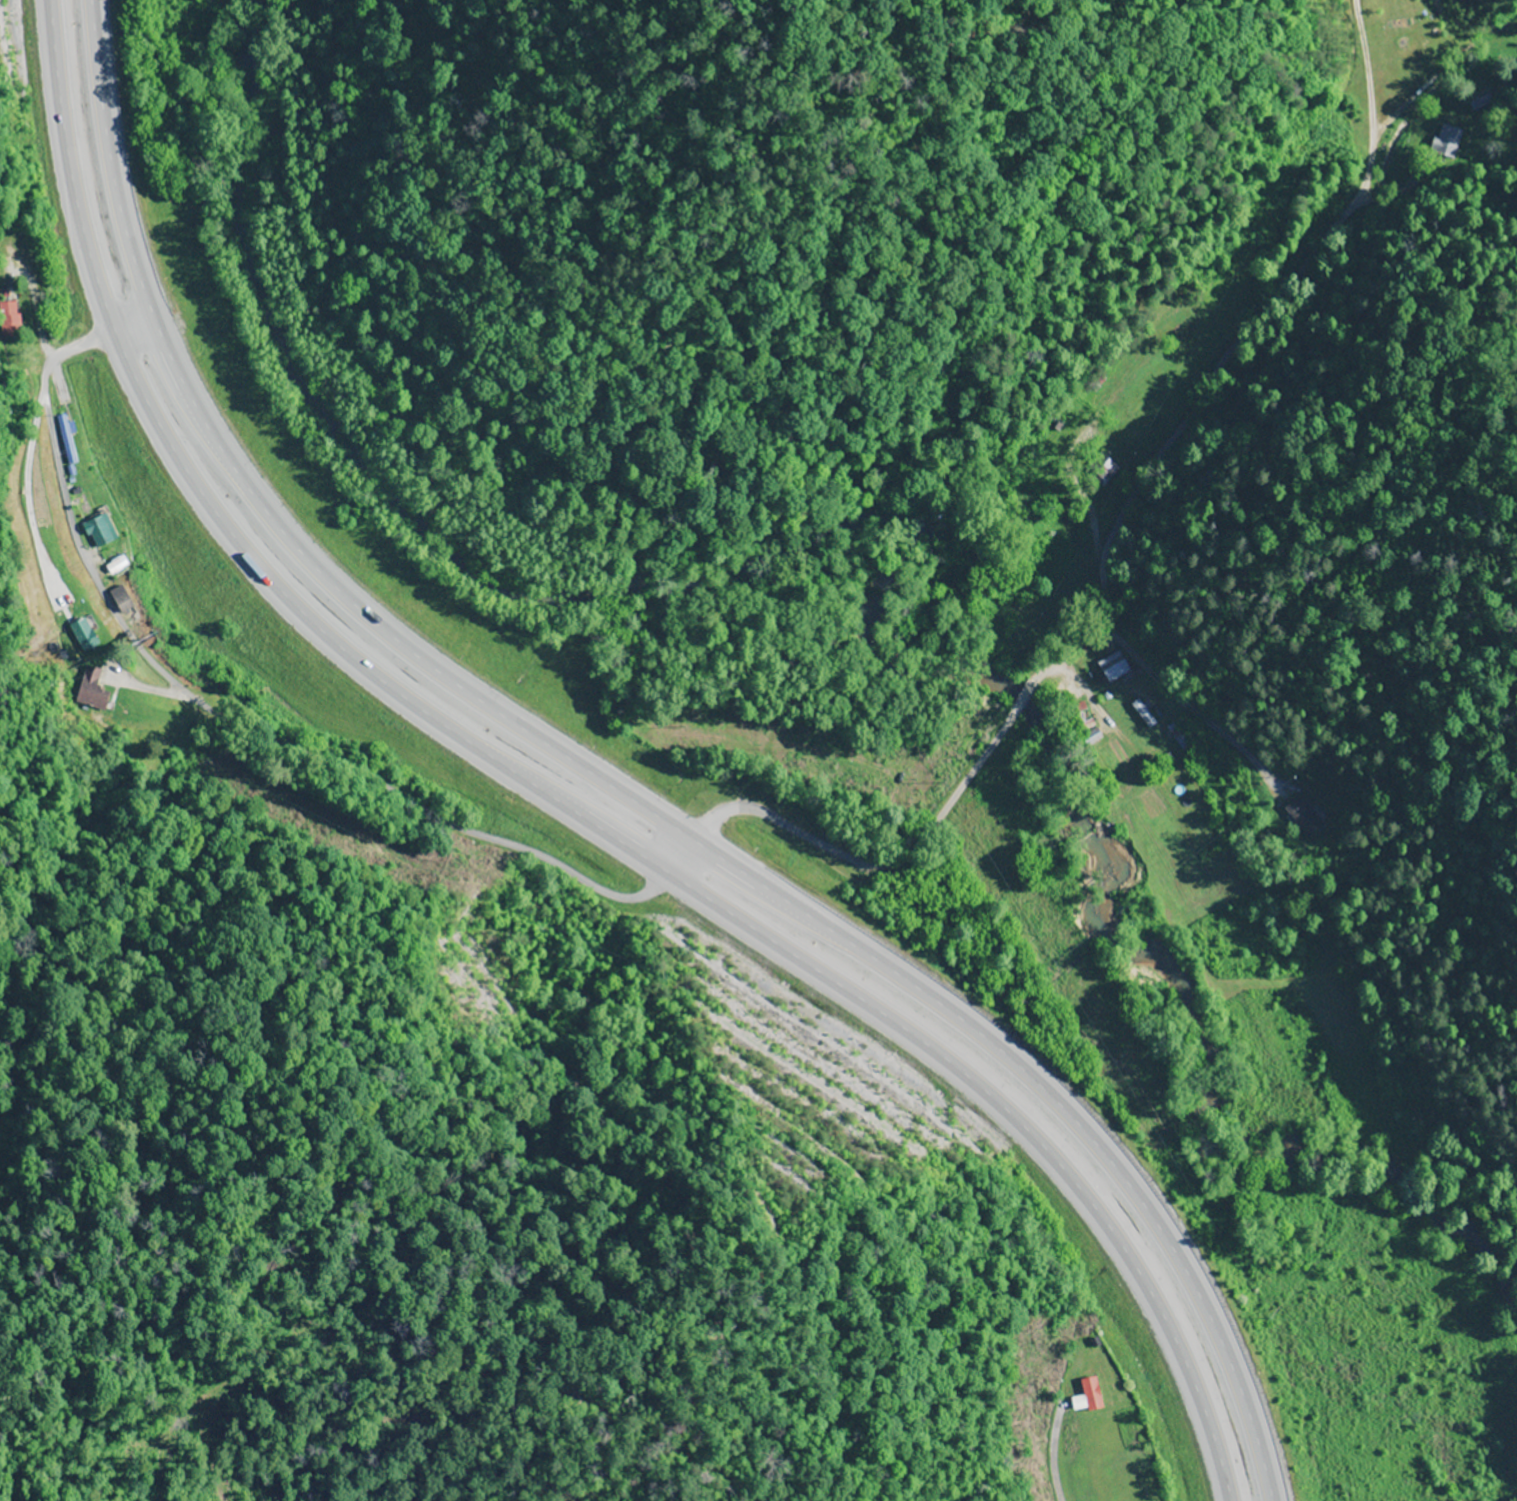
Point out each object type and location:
building: (1481, 102)
building: (1447, 141)
building: (67, 439)
building: (1100, 470)
building: (1113, 667)
building: (1143, 714)
building: (1177, 737)
building: (1167, 762)
road: (608, 792)
road: (554, 804)
building: (1303, 818)
road: (919, 859)

